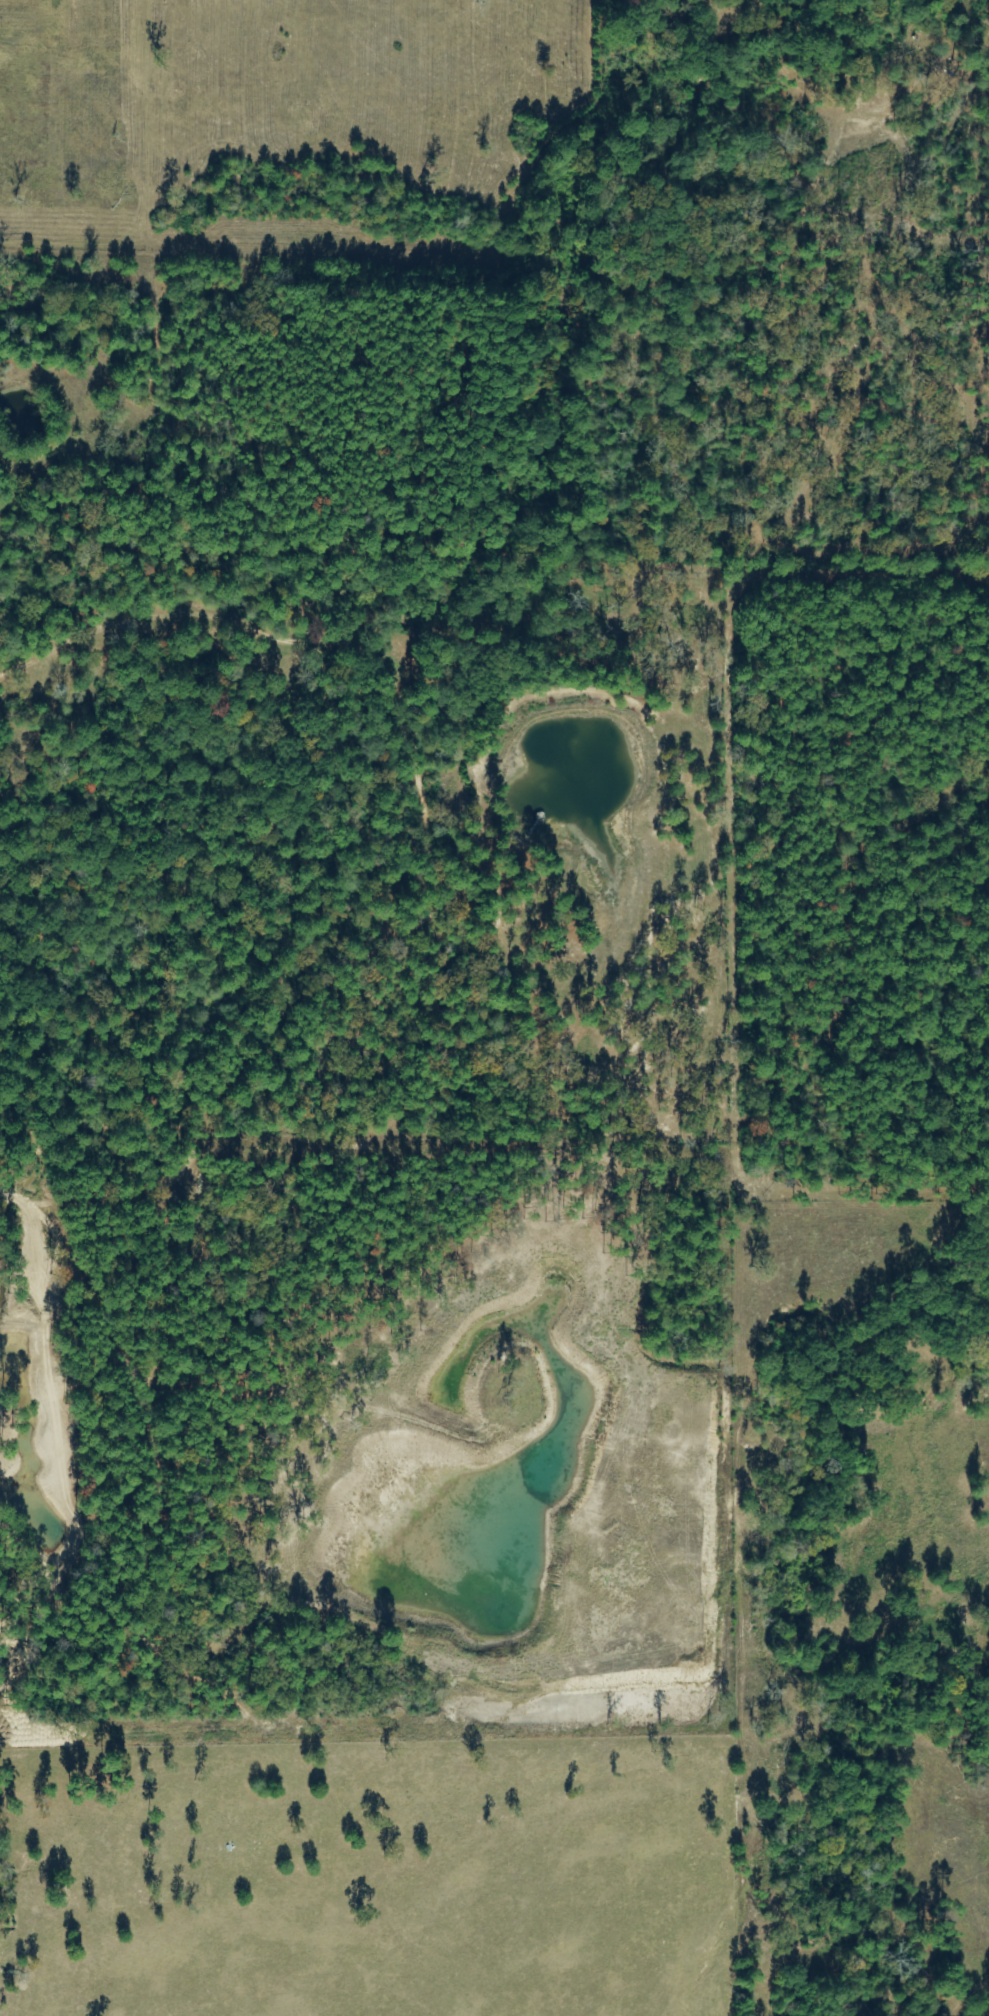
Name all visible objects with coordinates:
road: (126, 1530)

